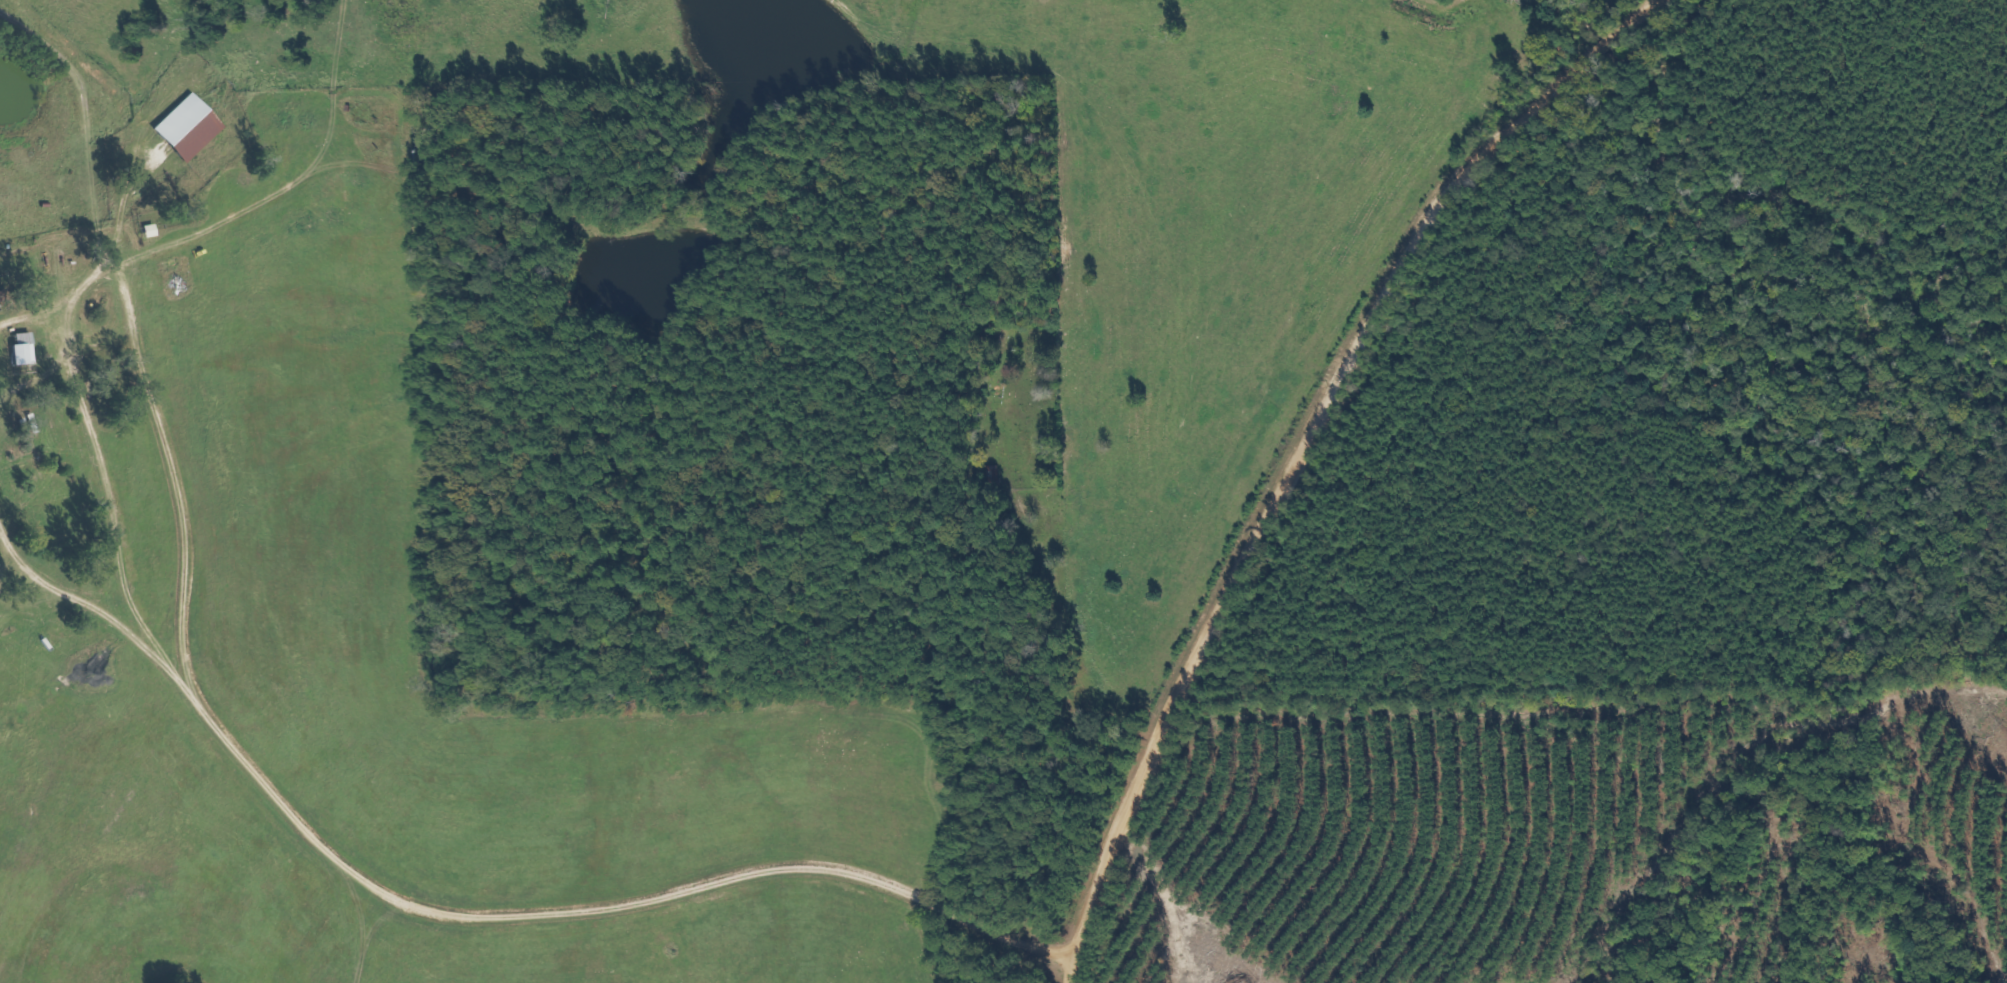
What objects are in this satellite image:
building: (186, 125)
building: (4, 299)
building: (19, 352)
park: (1016, 404)
road: (1306, 445)
building: (985, 473)
building: (51, 492)
road: (1074, 616)
road: (285, 794)

